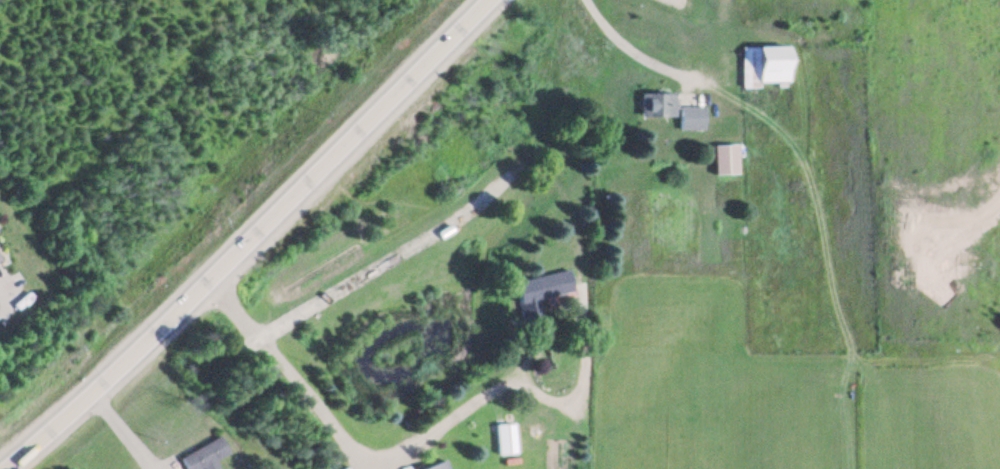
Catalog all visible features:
building: (765, 67)
building: (656, 107)
building: (691, 120)
building: (725, 161)
road: (253, 238)
building: (537, 293)
building: (505, 441)
building: (201, 457)
building: (439, 466)

